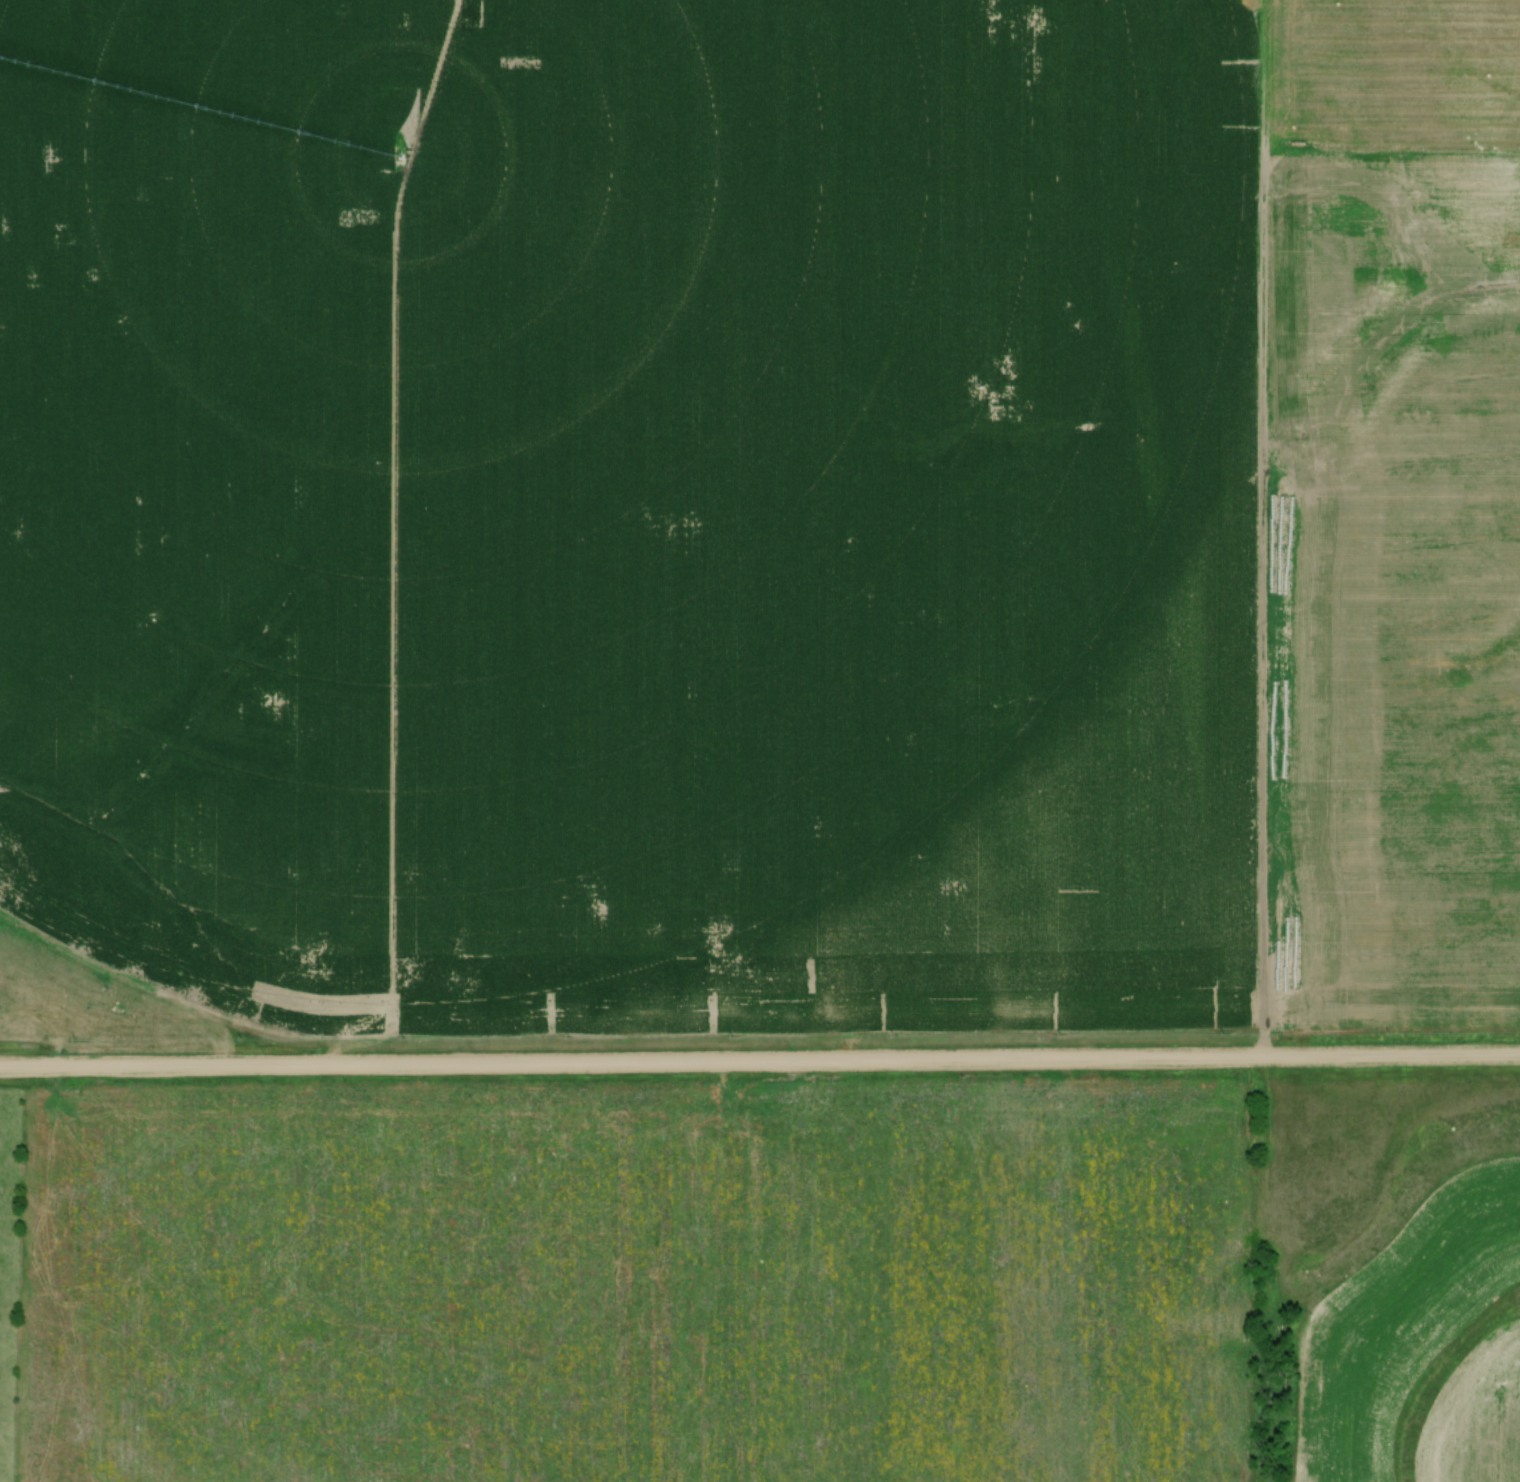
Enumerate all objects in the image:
road: (760, 1066)

